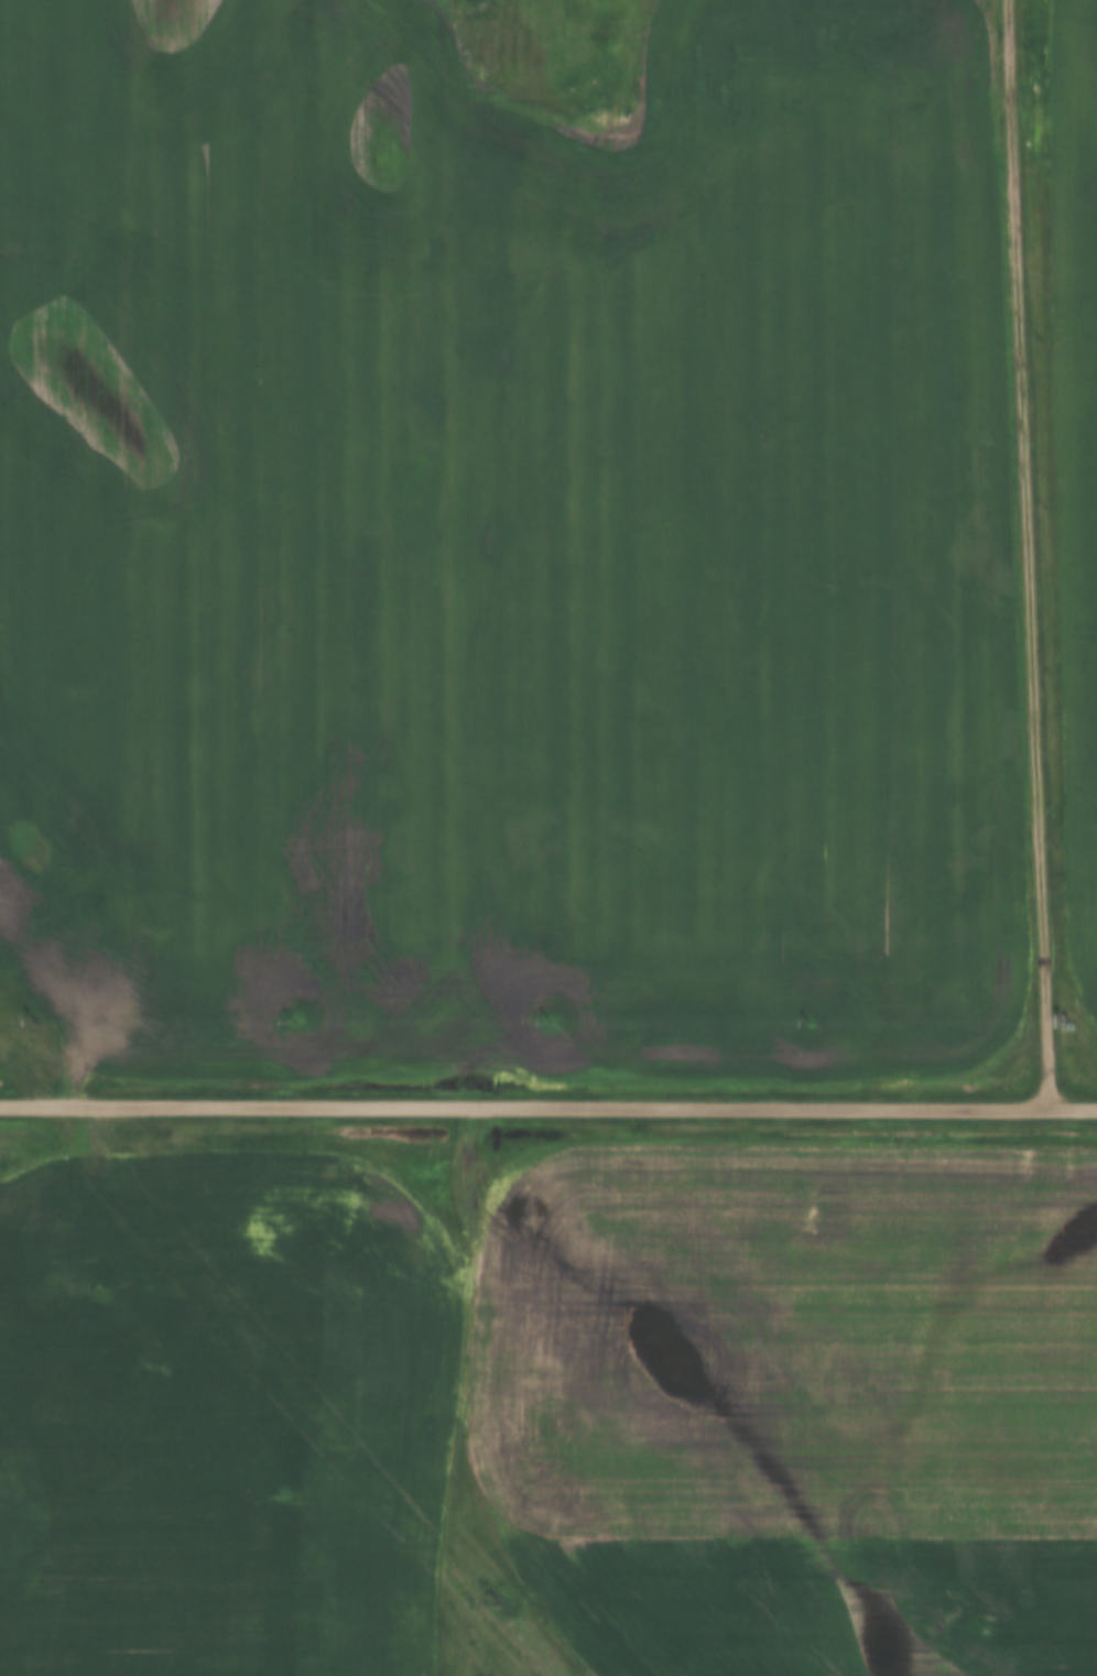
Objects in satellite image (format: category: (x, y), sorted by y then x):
road: (1028, 552)
road: (547, 1106)

